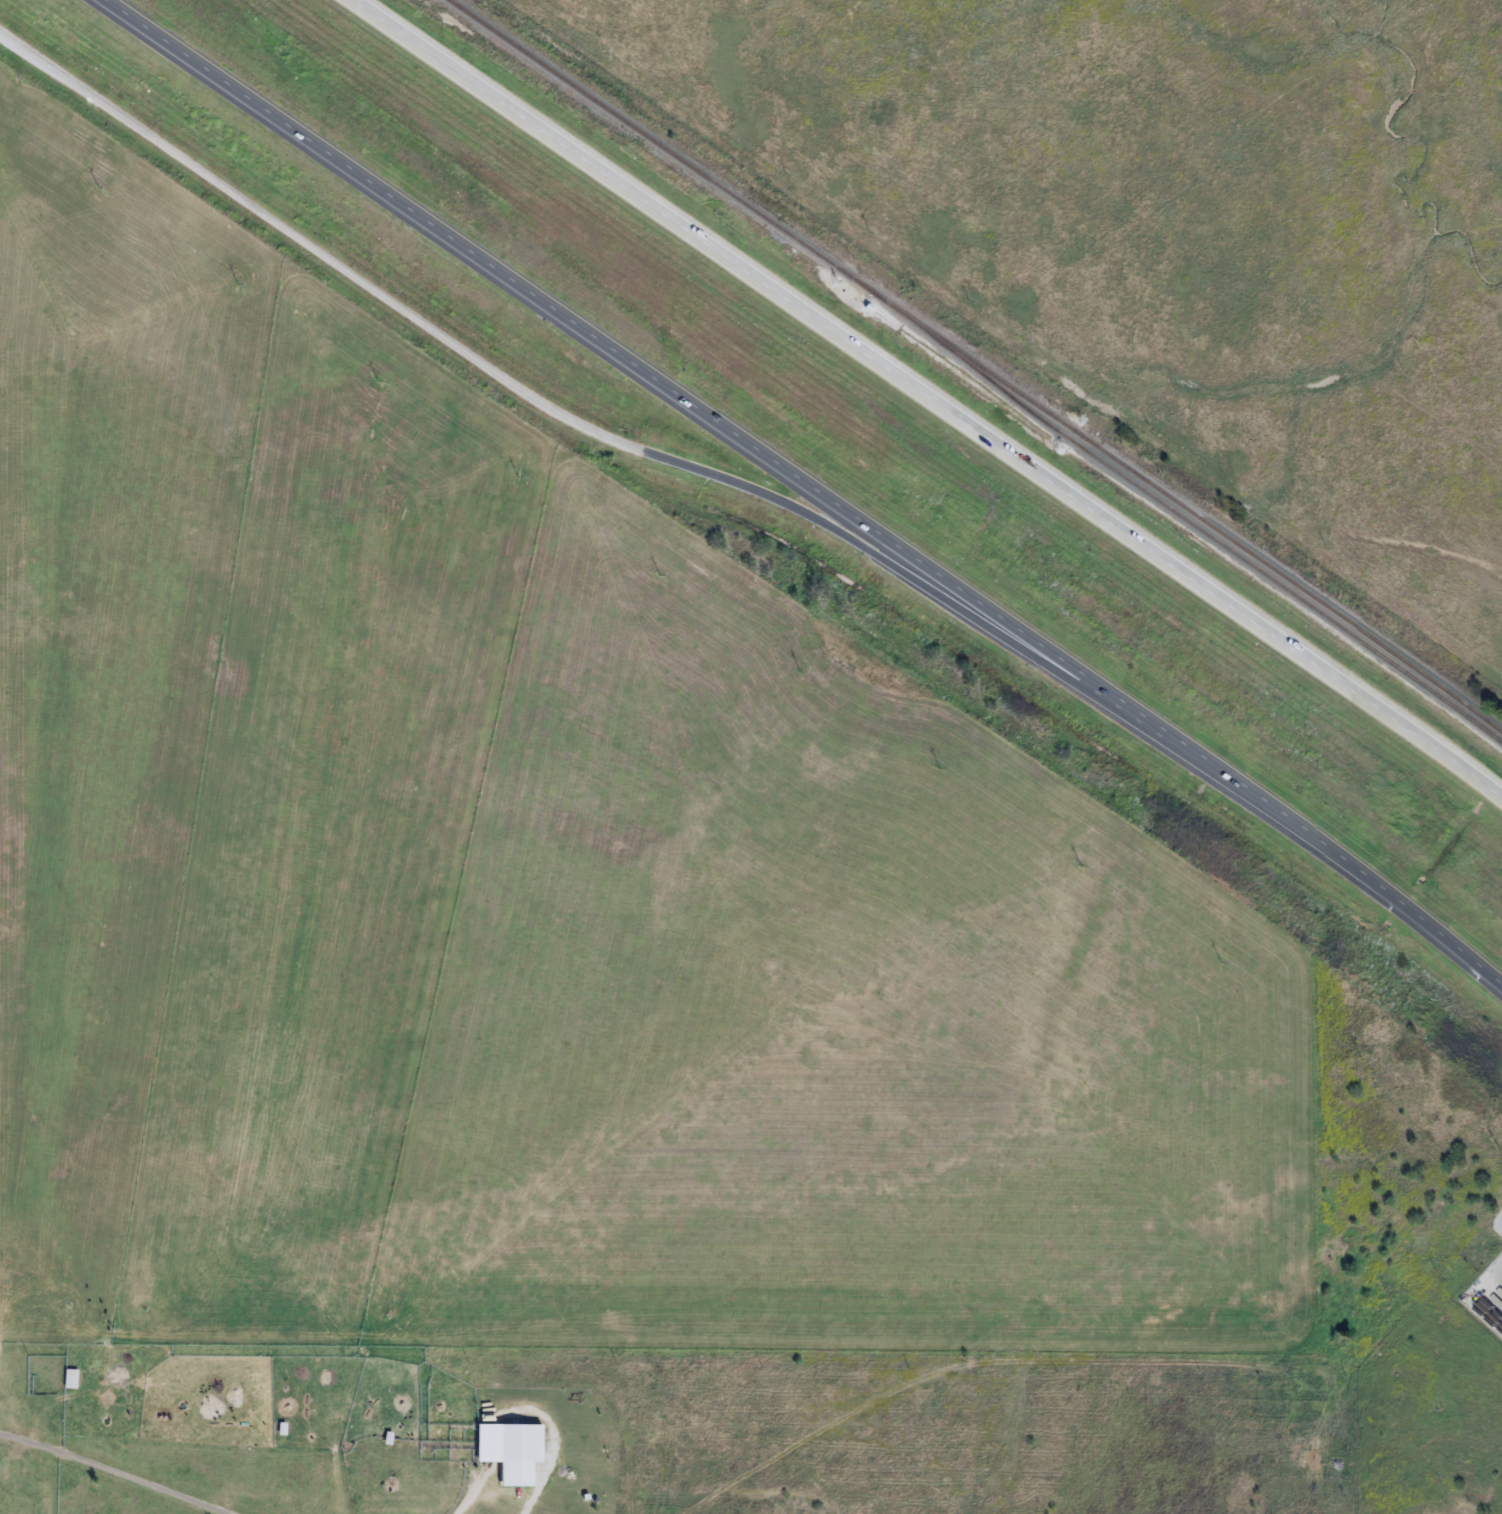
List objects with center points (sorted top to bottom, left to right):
railway: (976, 364)
road: (929, 397)
road: (548, 401)
road: (804, 484)
railway: (1204, 534)
building: (68, 1379)
building: (519, 1444)

